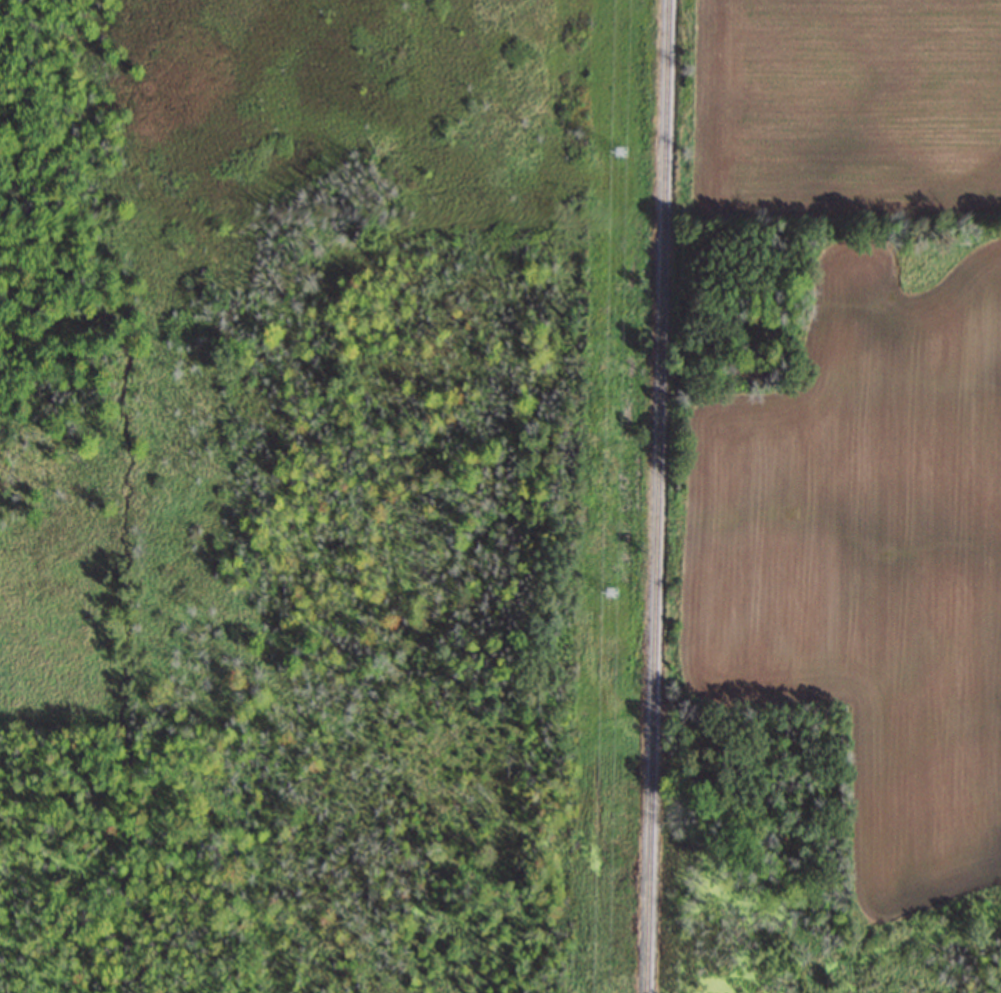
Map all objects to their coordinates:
railway: (668, 496)

